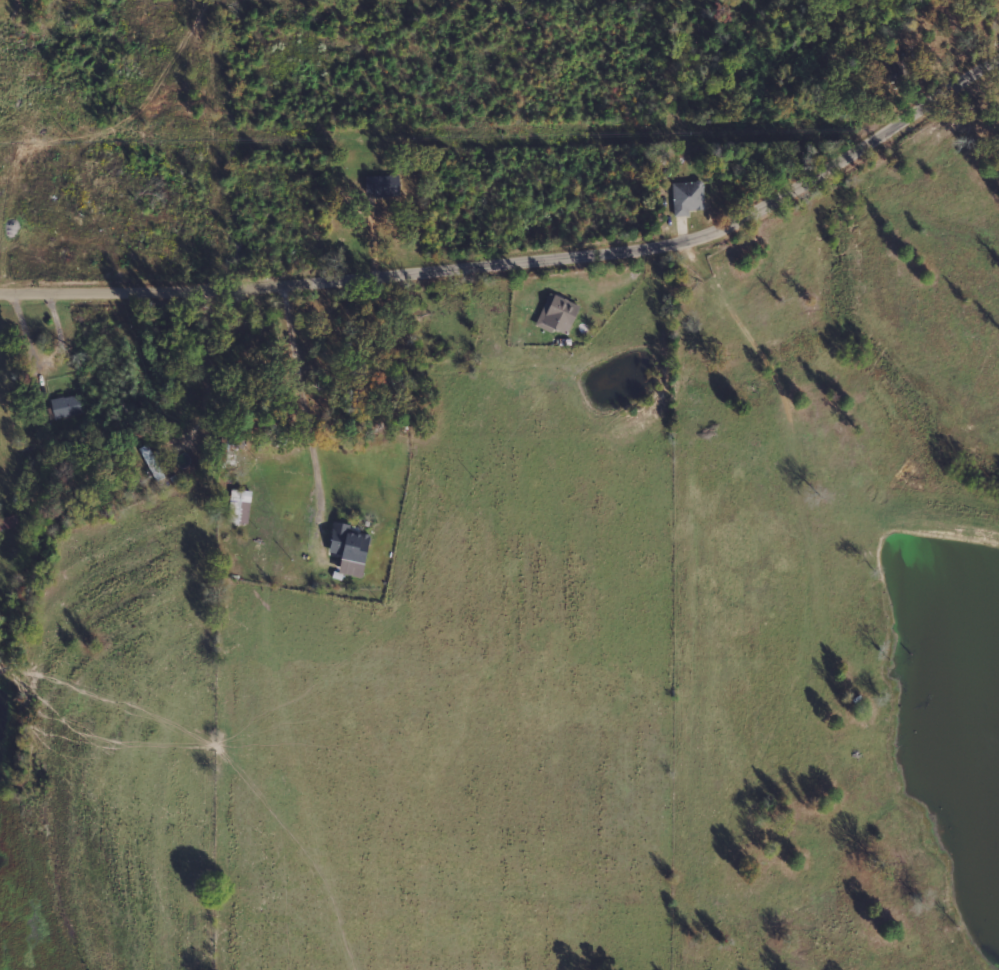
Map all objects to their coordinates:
building: (383, 186)
building: (687, 198)
road: (521, 259)
building: (557, 315)
building: (66, 406)
building: (239, 507)
building: (8, 522)
building: (350, 550)

